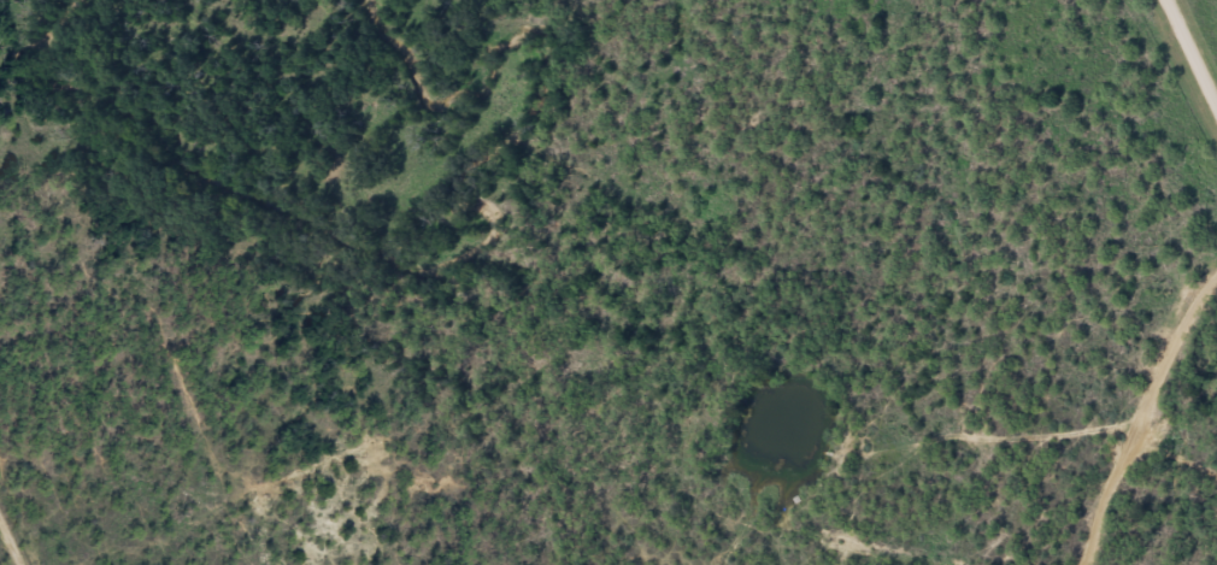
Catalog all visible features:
road: (1201, 23)
road: (55, 451)
road: (1175, 458)

